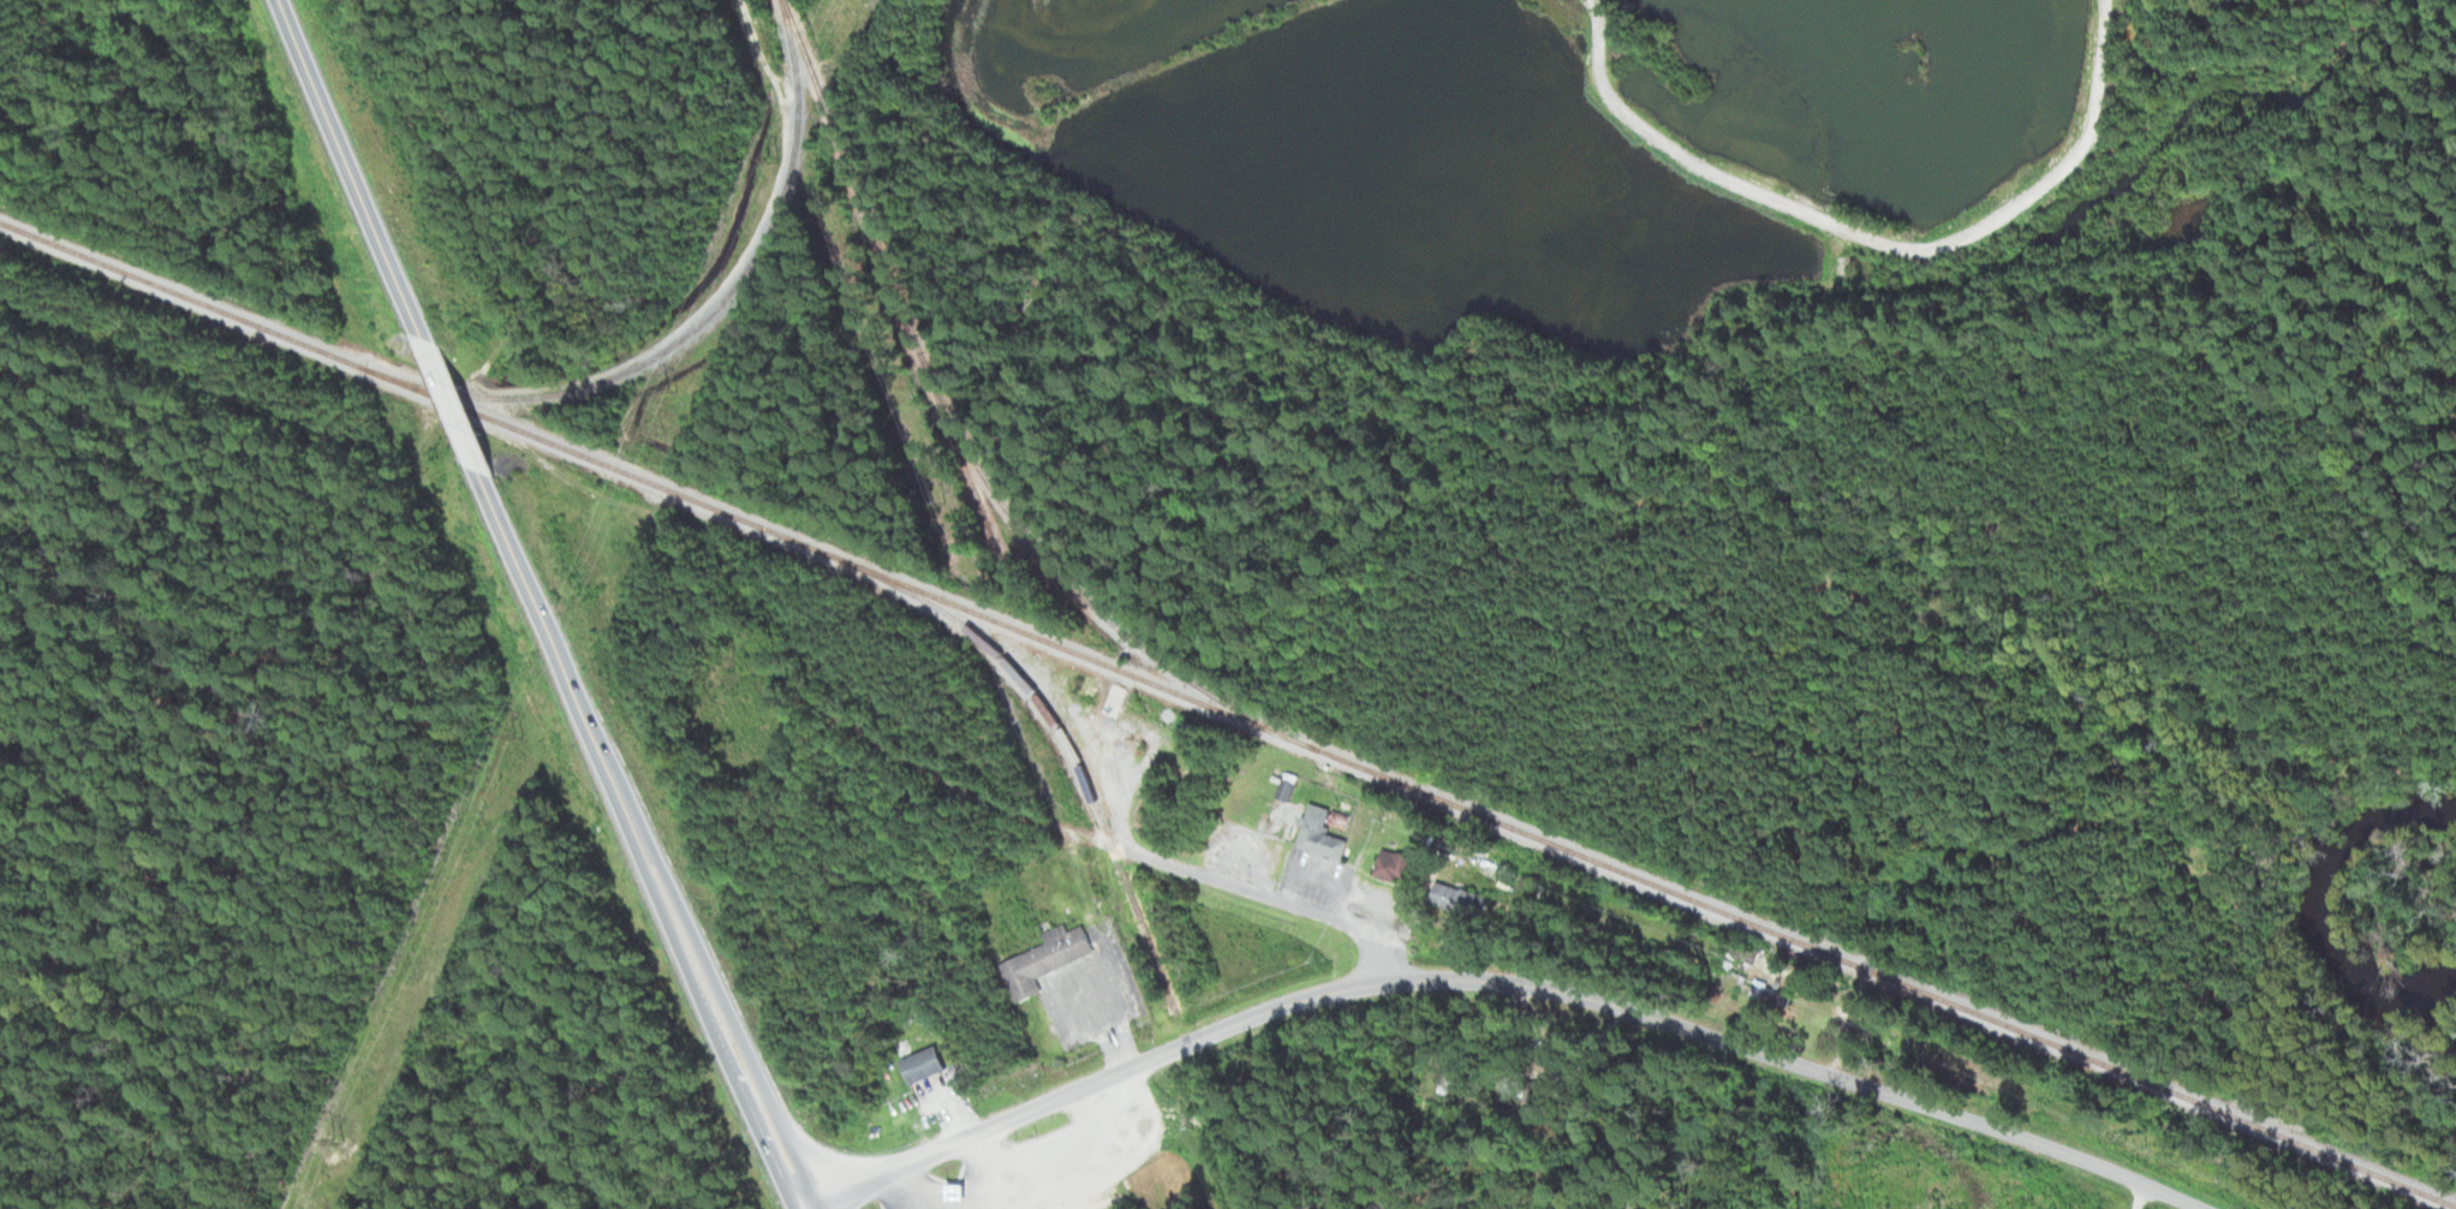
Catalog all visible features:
power tower: (765, 154)
road: (360, 168)
road: (1859, 233)
railway: (698, 322)
power tower: (668, 383)
road: (463, 406)
railway: (970, 447)
building: (1117, 702)
railway: (1227, 715)
power tower: (520, 733)
building: (1324, 835)
road: (648, 842)
building: (1397, 866)
building: (1464, 903)
road: (1376, 949)
building: (1048, 961)
road: (1504, 972)
building: (1766, 989)
building: (928, 1066)
power tower: (338, 1136)
building: (1109, 1197)

